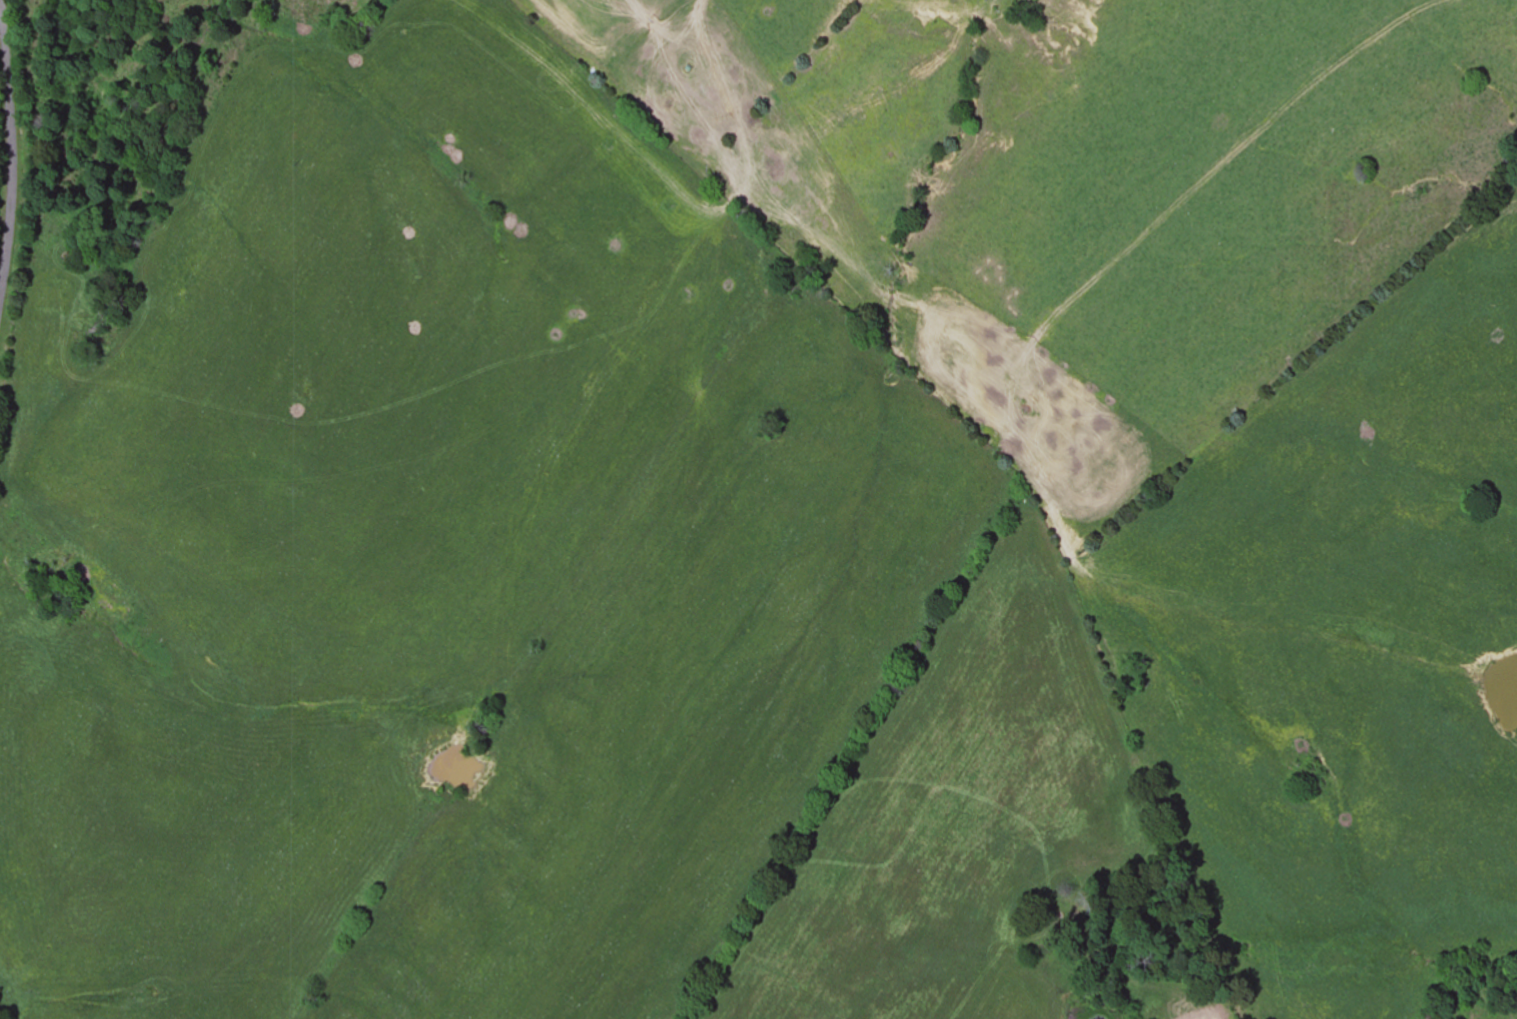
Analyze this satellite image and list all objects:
road: (10, 141)

